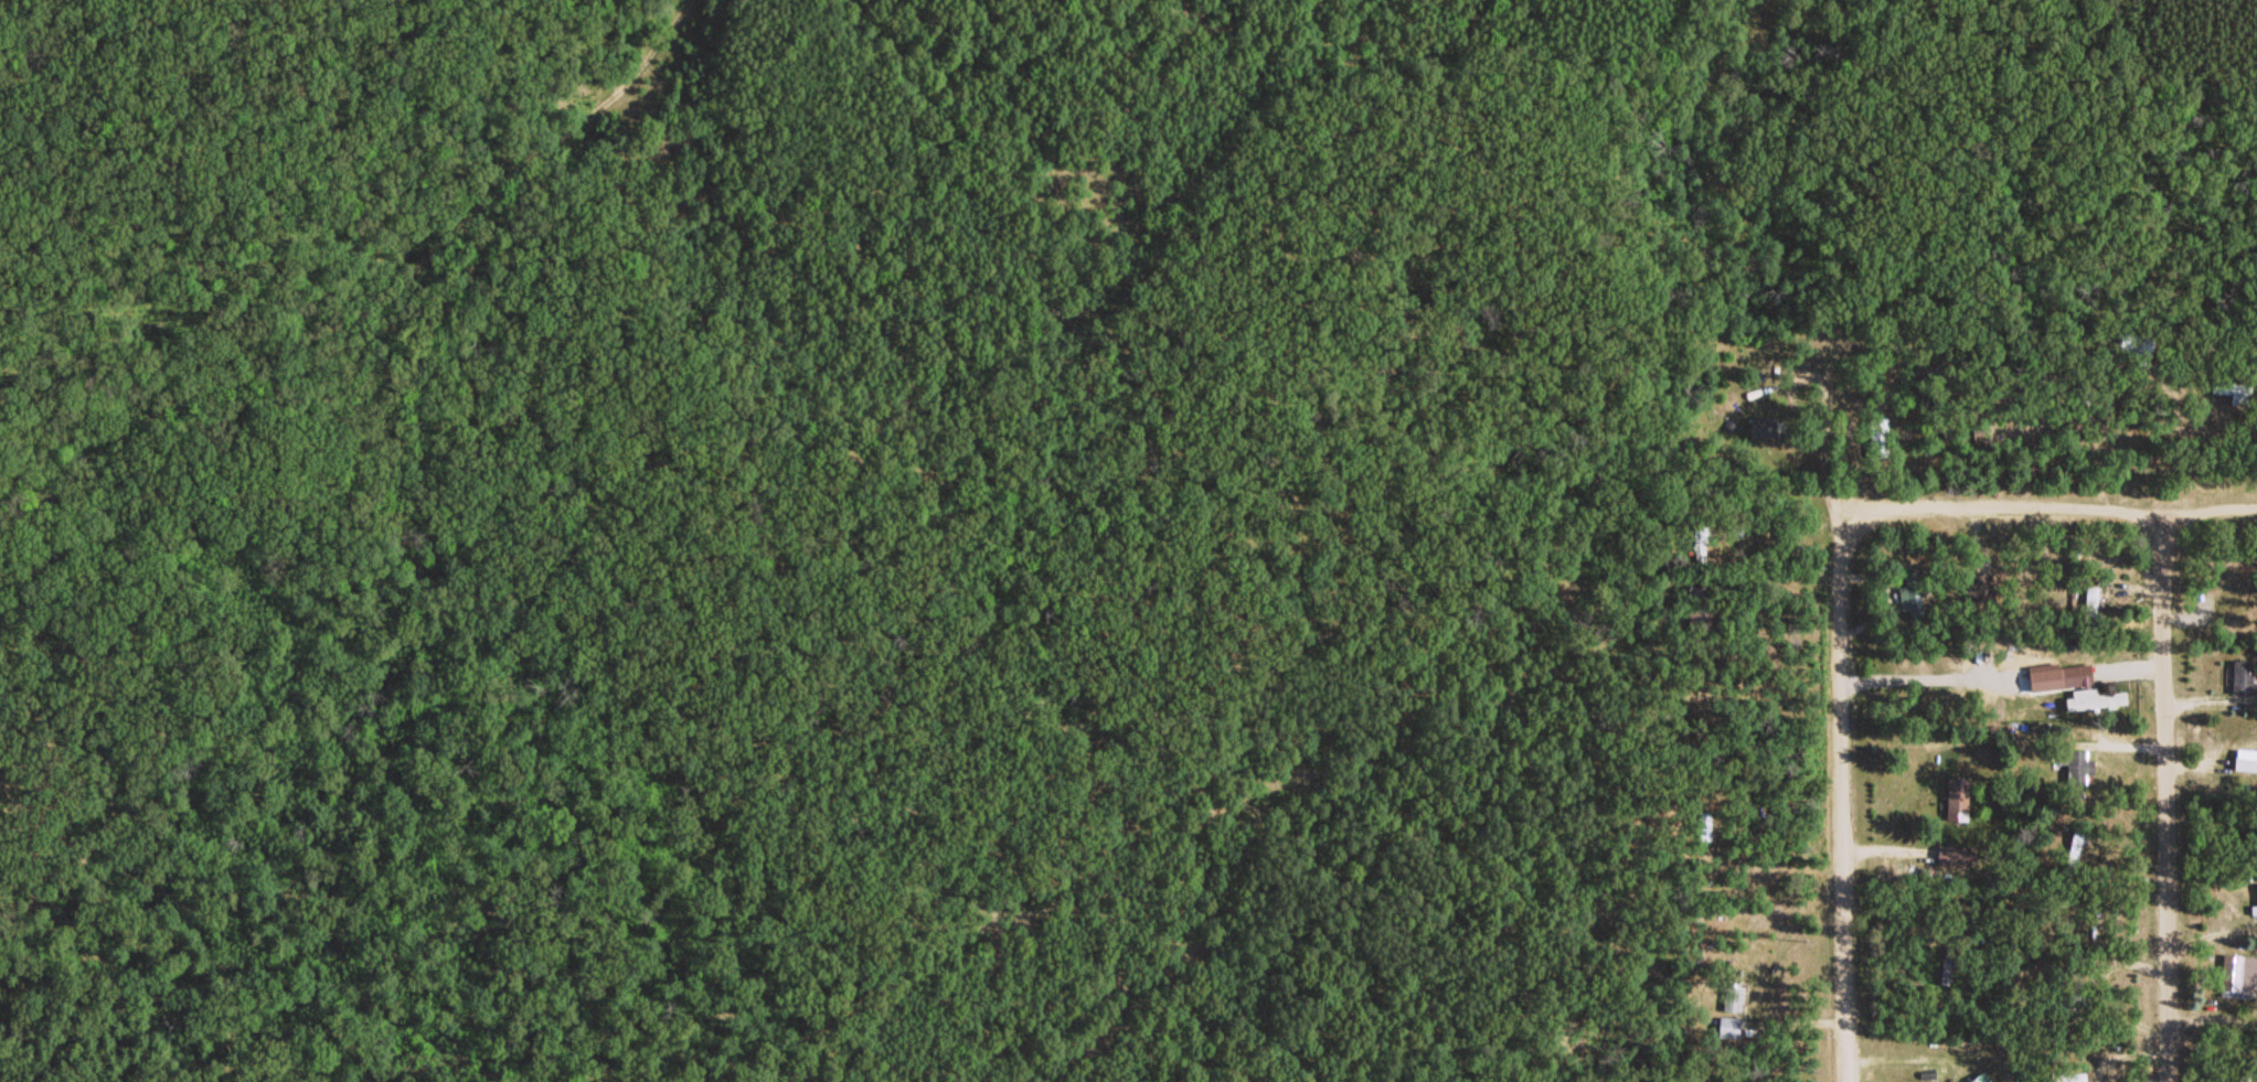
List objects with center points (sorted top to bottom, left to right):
building: (2134, 343)
building: (2233, 390)
building: (2158, 403)
building: (1876, 436)
road: (2057, 511)
building: (1977, 586)
building: (1910, 593)
building: (2089, 608)
building: (2074, 674)
building: (2240, 675)
building: (2096, 699)
building: (2244, 763)
building: (2075, 767)
road: (2168, 797)
building: (1956, 800)
road: (1849, 803)
building: (1704, 825)
building: (2074, 849)
building: (2254, 910)
building: (2238, 975)
building: (1732, 997)
building: (2066, 1003)
building: (1732, 1026)
building: (2066, 1076)

